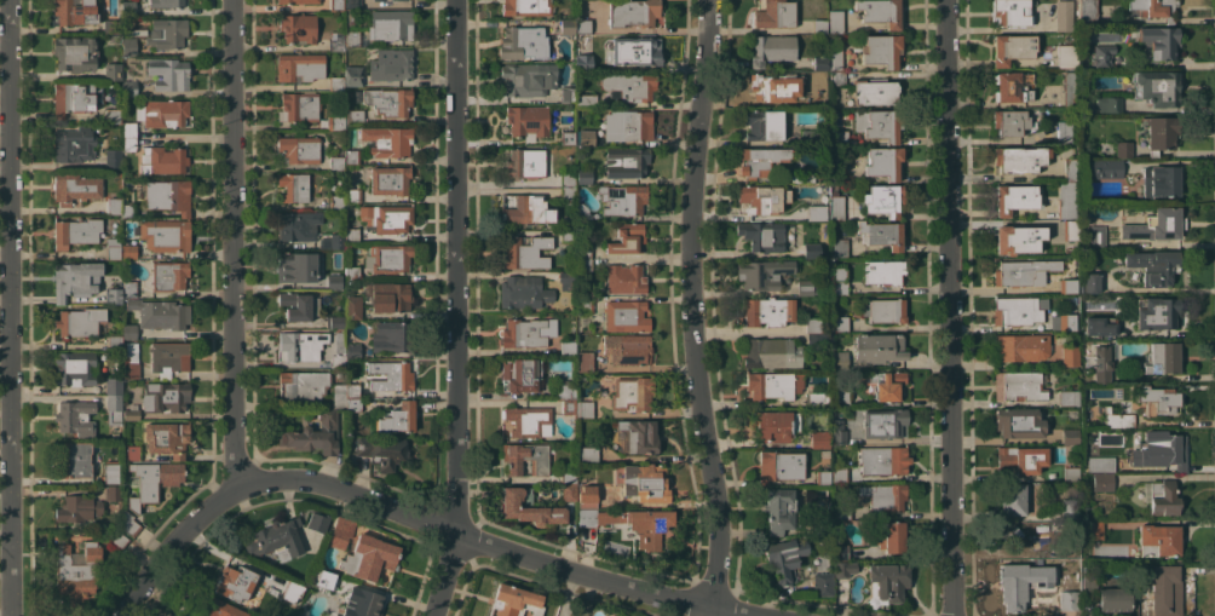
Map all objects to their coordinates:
building: (392, 0)
building: (298, 1)
building: (592, 2)
building: (166, 4)
building: (352, 4)
building: (336, 5)
building: (128, 7)
building: (526, 7)
building: (1153, 7)
building: (1087, 10)
building: (75, 11)
building: (880, 11)
building: (632, 12)
building: (1012, 12)
building: (775, 13)
building: (1064, 15)
building: (349, 17)
building: (835, 21)
building: (391, 24)
building: (111, 25)
building: (583, 25)
building: (819, 25)
building: (566, 27)
building: (296, 28)
building: (167, 33)
building: (352, 38)
building: (336, 41)
building: (1157, 41)
building: (523, 42)
building: (128, 46)
building: (1012, 47)
building: (627, 48)
building: (772, 48)
building: (881, 50)
building: (75, 53)
building: (1066, 56)
building: (1102, 56)
building: (834, 57)
building: (582, 63)
building: (820, 63)
building: (391, 64)
building: (300, 67)
building: (113, 70)
building: (168, 74)
building: (353, 76)
building: (837, 77)
building: (528, 79)
building: (336, 84)
building: (629, 86)
building: (1012, 86)
building: (131, 87)
building: (764, 87)
building: (1157, 87)
building: (1071, 88)
building: (874, 91)
building: (817, 92)
building: (336, 93)
building: (566, 94)
building: (71, 98)
building: (386, 100)
building: (585, 100)
building: (1109, 104)
building: (299, 106)
building: (165, 113)
building: (353, 115)
building: (113, 116)
building: (338, 119)
building: (528, 121)
building: (1009, 121)
building: (879, 123)
building: (627, 125)
building: (764, 125)
building: (128, 129)
building: (1064, 132)
building: (1159, 133)
building: (808, 134)
building: (568, 137)
building: (586, 137)
building: (837, 137)
building: (387, 140)
building: (128, 143)
building: (73, 144)
building: (299, 149)
building: (1123, 149)
building: (351, 156)
building: (113, 159)
building: (1019, 159)
building: (163, 160)
building: (760, 160)
building: (626, 161)
building: (336, 162)
building: (883, 162)
building: (525, 163)
building: (1070, 167)
building: (1105, 167)
building: (836, 168)
building: (585, 177)
building: (566, 179)
building: (388, 180)
building: (1159, 180)
building: (293, 186)
building: (75, 188)
building: (568, 192)
building: (352, 194)
building: (168, 195)
building: (1014, 197)
building: (622, 198)
building: (762, 198)
building: (883, 198)
building: (1067, 200)
building: (334, 201)
building: (114, 203)
building: (836, 206)
building: (128, 211)
building: (528, 211)
building: (810, 211)
building: (582, 212)
building: (386, 218)
building: (1156, 225)
building: (295, 226)
building: (1071, 229)
building: (75, 232)
building: (352, 234)
building: (881, 234)
building: (163, 235)
building: (566, 235)
building: (762, 235)
building: (1096, 236)
building: (627, 238)
building: (1020, 238)
building: (336, 240)
road: (232, 246)
building: (113, 248)
building: (840, 248)
building: (128, 251)
building: (811, 251)
building: (525, 252)
building: (583, 252)
building: (388, 258)
building: (583, 264)
building: (1153, 265)
road: (454, 266)
building: (295, 267)
building: (883, 271)
building: (1021, 271)
building: (352, 272)
building: (762, 272)
building: (168, 275)
building: (335, 277)
building: (624, 278)
building: (76, 280)
building: (565, 280)
building: (840, 281)
building: (1090, 282)
building: (1065, 286)
building: (807, 287)
building: (128, 288)
building: (114, 289)
building: (523, 293)
building: (388, 297)
building: (295, 305)
building: (583, 305)
road: (697, 305)
building: (353, 306)
road: (8, 307)
road: (949, 307)
building: (885, 310)
building: (1017, 310)
building: (766, 311)
building: (1156, 312)
building: (160, 313)
building: (626, 315)
building: (80, 321)
building: (334, 322)
building: (841, 322)
building: (1065, 323)
building: (813, 324)
building: (1100, 324)
building: (129, 332)
building: (526, 332)
building: (388, 338)
building: (818, 339)
building: (1060, 339)
building: (115, 341)
building: (301, 345)
building: (1021, 346)
building: (568, 347)
building: (879, 347)
building: (627, 349)
building: (352, 350)
building: (338, 352)
building: (771, 352)
building: (1070, 356)
building: (168, 357)
building: (1162, 358)
building: (839, 359)
building: (131, 361)
building: (585, 361)
building: (1101, 363)
building: (75, 368)
building: (520, 374)
building: (391, 375)
building: (886, 384)
building: (113, 385)
building: (303, 385)
building: (771, 385)
building: (1018, 386)
building: (564, 388)
building: (352, 390)
building: (632, 393)
building: (339, 395)
building: (165, 396)
building: (840, 396)
building: (1069, 397)
building: (814, 399)
building: (1158, 399)
building: (353, 404)
building: (569, 405)
building: (114, 408)
building: (586, 409)
building: (131, 413)
building: (75, 418)
building: (395, 419)
building: (1118, 420)
building: (528, 421)
building: (883, 421)
building: (1018, 422)
building: (776, 424)
building: (837, 432)
building: (313, 434)
building: (639, 434)
building: (1070, 436)
building: (166, 438)
building: (819, 438)
building: (1161, 450)
building: (131, 451)
building: (382, 451)
building: (588, 454)
building: (524, 457)
building: (73, 459)
building: (1012, 459)
building: (883, 460)
building: (1100, 464)
building: (779, 466)
building: (840, 473)
building: (1071, 473)
building: (568, 476)
building: (823, 476)
building: (152, 480)
building: (643, 482)
building: (1102, 482)
building: (569, 491)
building: (113, 494)
building: (586, 494)
building: (881, 496)
building: (1161, 496)
building: (1013, 499)
building: (528, 507)
building: (77, 508)
building: (777, 508)
building: (1070, 508)
building: (842, 512)
building: (317, 520)
building: (129, 523)
building: (820, 523)
building: (646, 529)
building: (1092, 529)
building: (341, 531)
building: (275, 535)
building: (887, 535)
building: (114, 539)
building: (1158, 540)
road: (175, 543)
road: (497, 545)
building: (840, 552)
building: (369, 557)
building: (783, 559)
building: (842, 569)
building: (76, 574)
building: (315, 574)
road: (448, 575)
building: (887, 581)
building: (1089, 581)
building: (236, 582)
building: (823, 583)
building: (1013, 586)
building: (1077, 586)
building: (1165, 591)
building: (293, 592)
building: (1115, 599)
building: (1066, 600)
building: (516, 601)
building: (362, 603)
building: (214, 608)
road: (709, 612)

